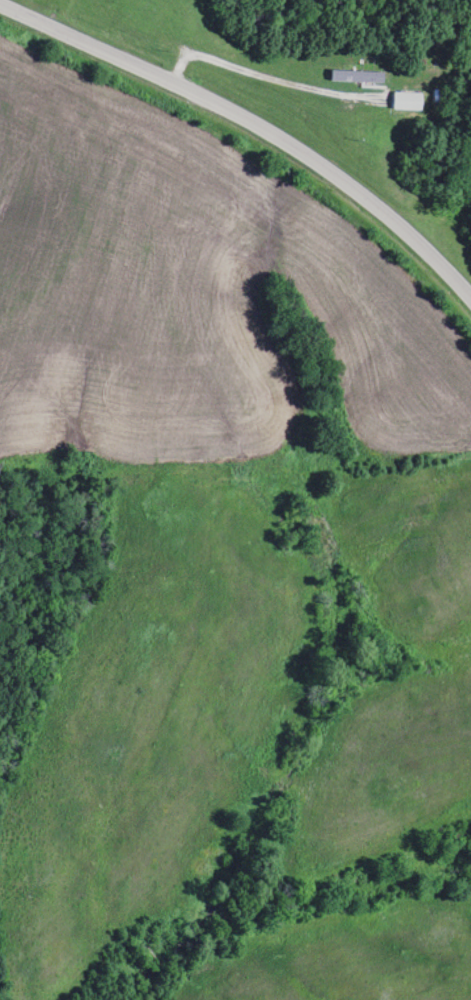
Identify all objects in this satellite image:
road: (258, 73)
building: (406, 102)
road: (254, 121)

